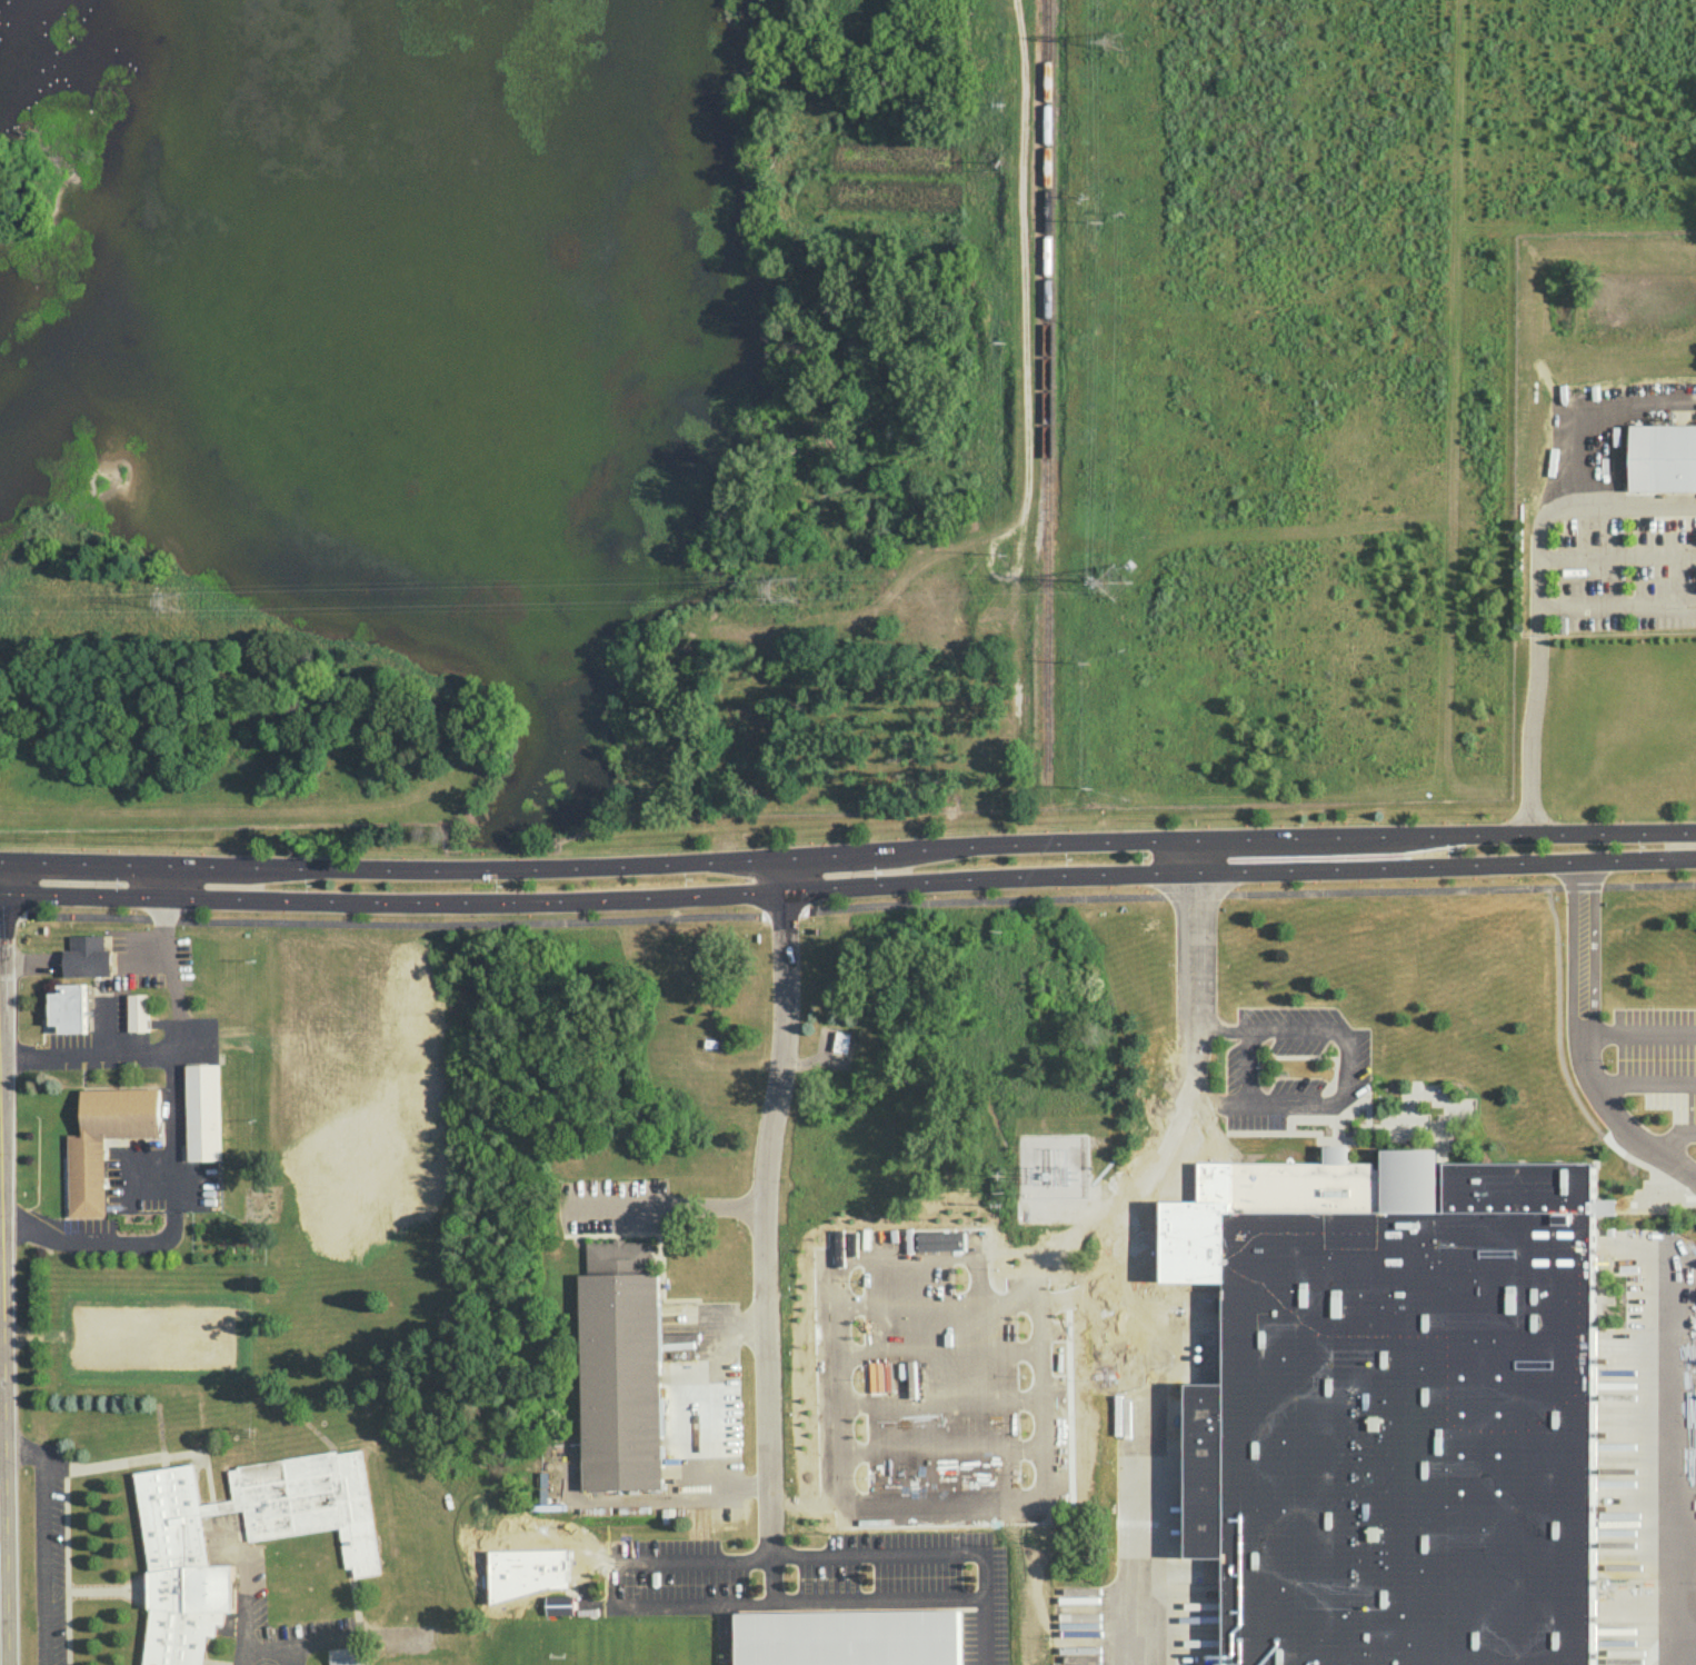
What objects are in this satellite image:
power tower: (1113, 41)
power tower: (1103, 216)
railway: (1047, 386)
building: (1662, 457)
road: (1617, 560)
road: (1539, 566)
power tower: (1110, 582)
power tower: (782, 586)
power tower: (168, 598)
road: (1533, 725)
road: (203, 807)
road: (847, 856)
road: (1194, 858)
road: (1445, 867)
road: (785, 878)
road: (989, 881)
road: (392, 907)
road: (847, 911)
building: (89, 956)
road: (141, 958)
road: (30, 959)
parking lot: (132, 989)
building: (69, 1008)
building: (139, 1011)
road: (103, 1021)
road: (1214, 1025)
road: (1640, 1031)
parking lot: (66, 1038)
building: (842, 1041)
road: (1588, 1043)
road: (109, 1048)
road: (22, 1051)
parking lot: (1291, 1064)
road: (1248, 1065)
road: (1345, 1068)
road: (1565, 1076)
road: (1648, 1080)
road: (1204, 1100)
building: (202, 1111)
road: (1675, 1133)
road: (172, 1149)
power substation: (1052, 1163)
building: (86, 1176)
parking lot: (157, 1178)
road: (1086, 1202)
road: (666, 1206)
road: (1645, 1207)
parking lot: (87, 1223)
road: (764, 1226)
road: (1139, 1266)
road: (3, 1280)
building: (621, 1367)
road: (700, 1413)
building: (1403, 1414)
road: (1684, 1467)
building: (698, 1523)
road: (40, 1543)
building: (178, 1553)
road: (932, 1553)
road: (66, 1571)
road: (771, 1577)
road: (108, 1591)
road: (669, 1599)
building: (560, 1604)
road: (243, 1607)
road: (1689, 1637)
building: (860, 1638)
road: (337, 1639)
road: (293, 1654)
building: (346, 1656)

